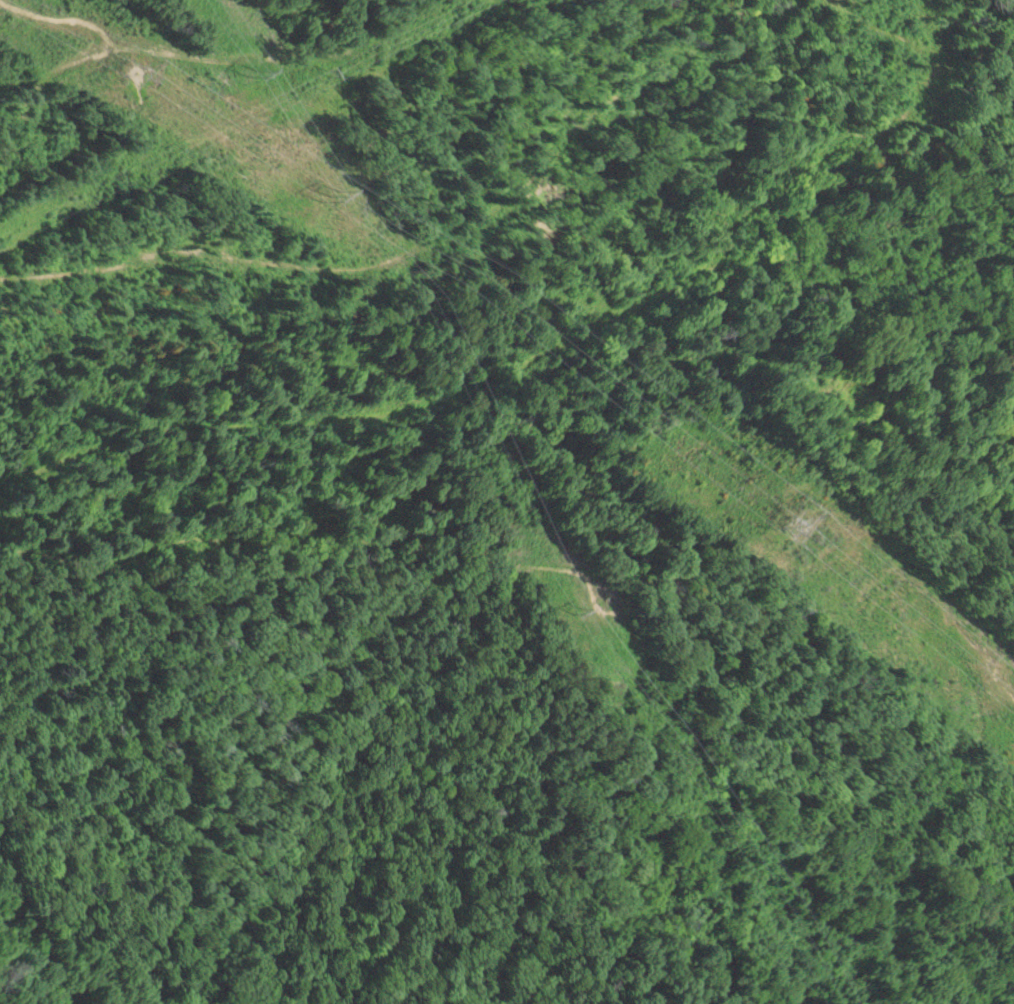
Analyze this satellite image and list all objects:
power tower: (131, 72)
power tower: (320, 73)
power tower: (789, 526)

